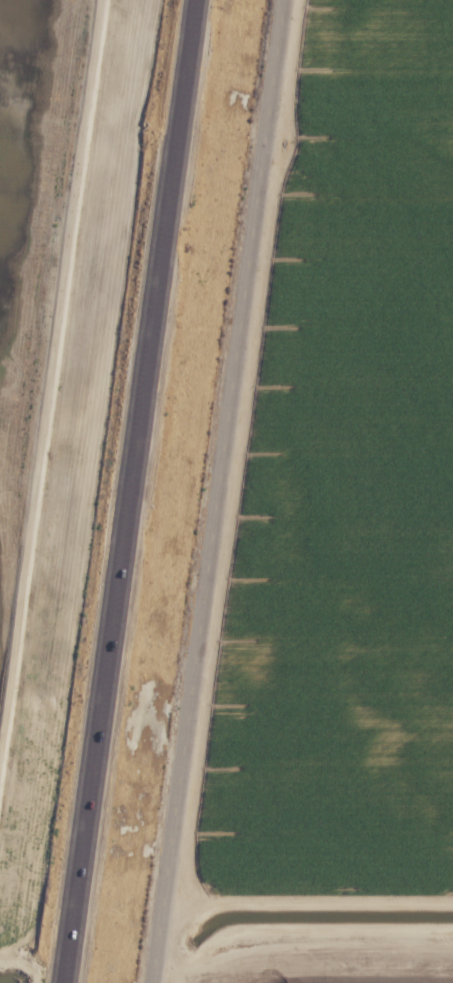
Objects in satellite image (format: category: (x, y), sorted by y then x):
road: (126, 491)
road: (222, 491)
crop: (368, 499)
crop: (338, 959)

